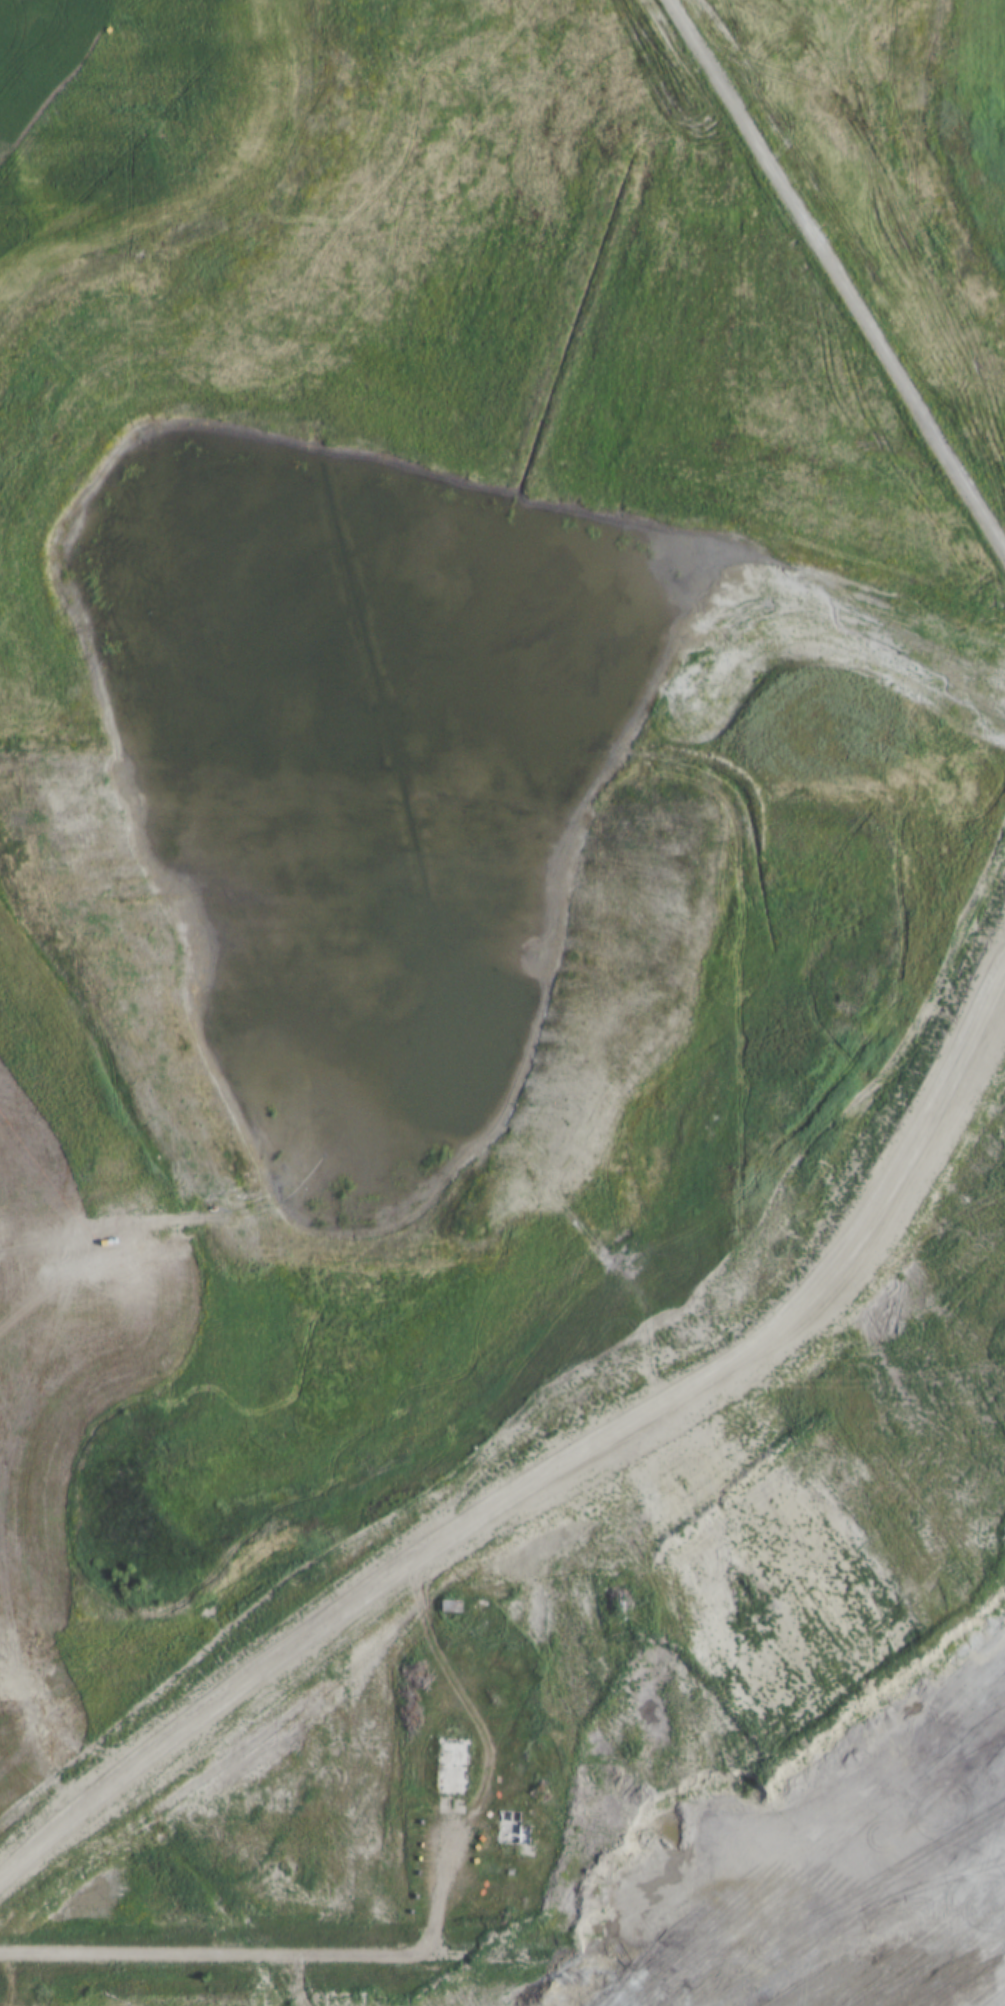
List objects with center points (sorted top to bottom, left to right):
building: (447, 1606)
building: (454, 1767)
building: (516, 1831)
road: (441, 1885)
road: (502, 1952)

